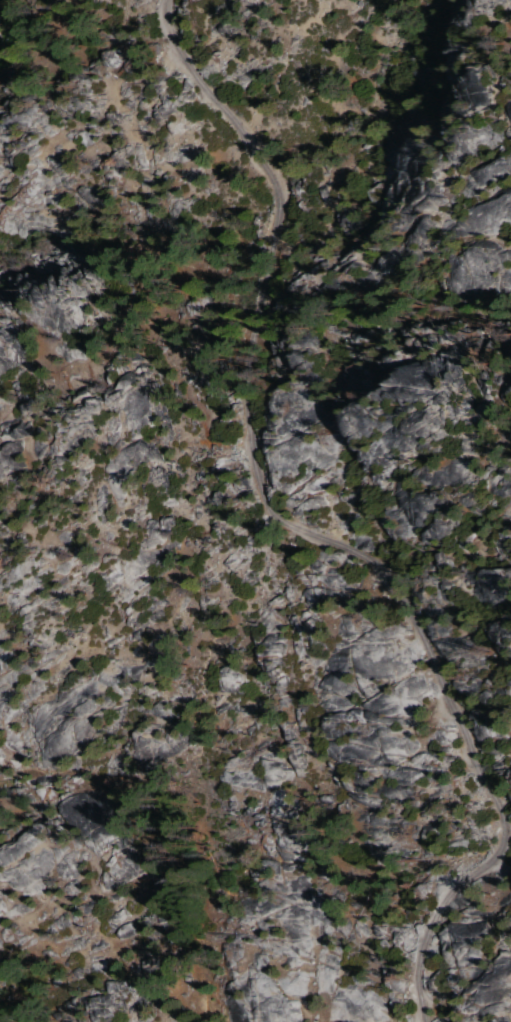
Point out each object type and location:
road: (301, 532)

